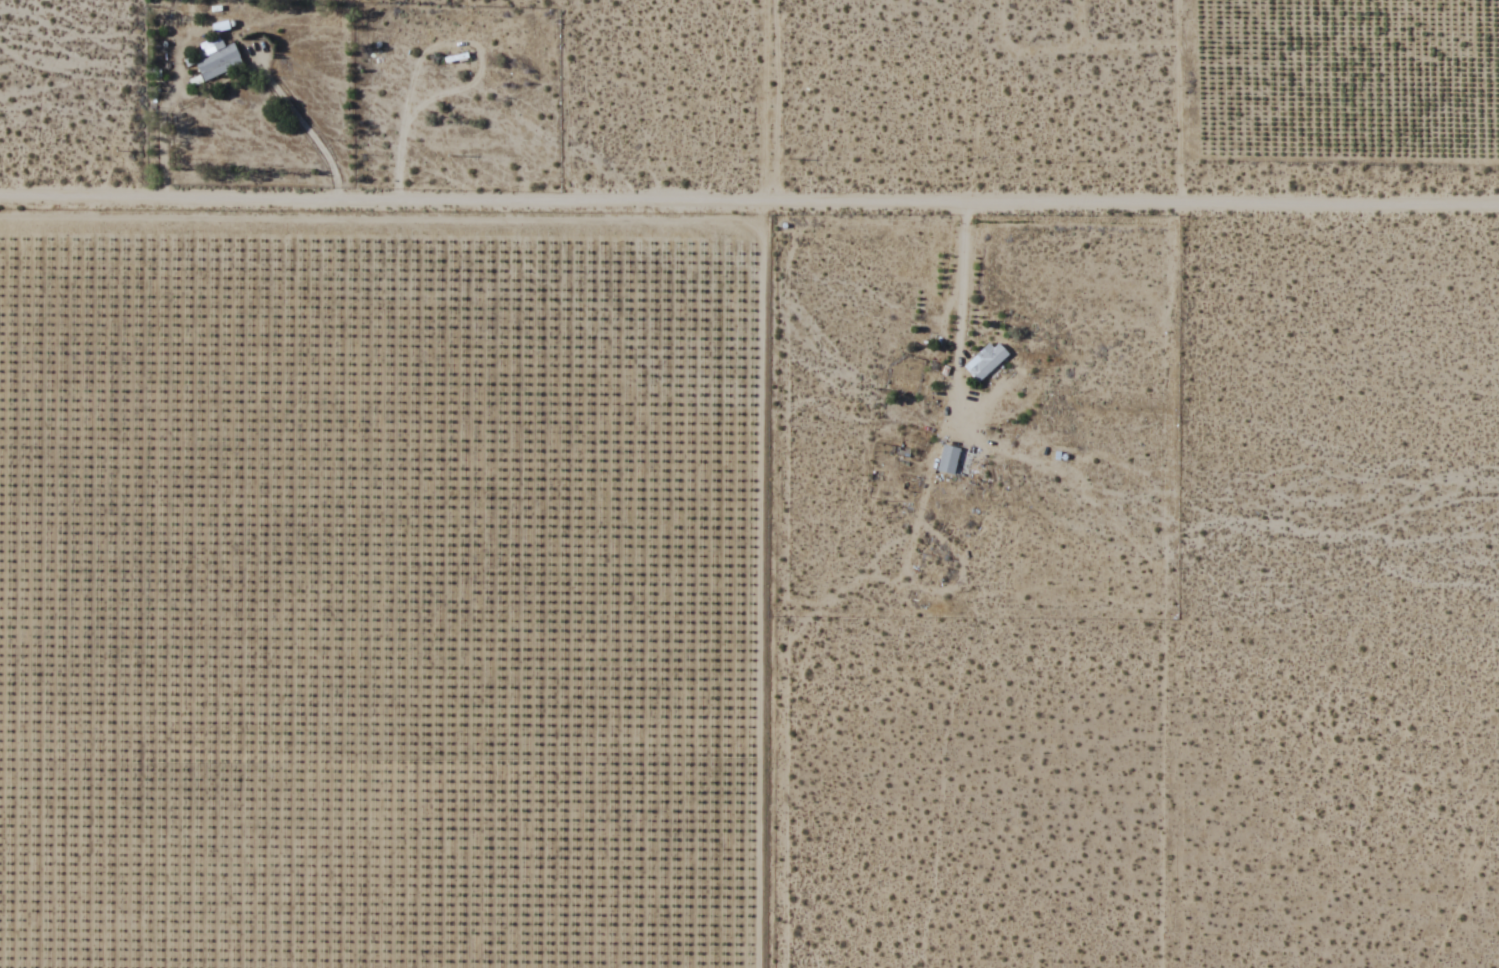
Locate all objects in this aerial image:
building: (215, 57)
road: (749, 204)
building: (986, 361)
building: (953, 461)
road: (755, 586)

